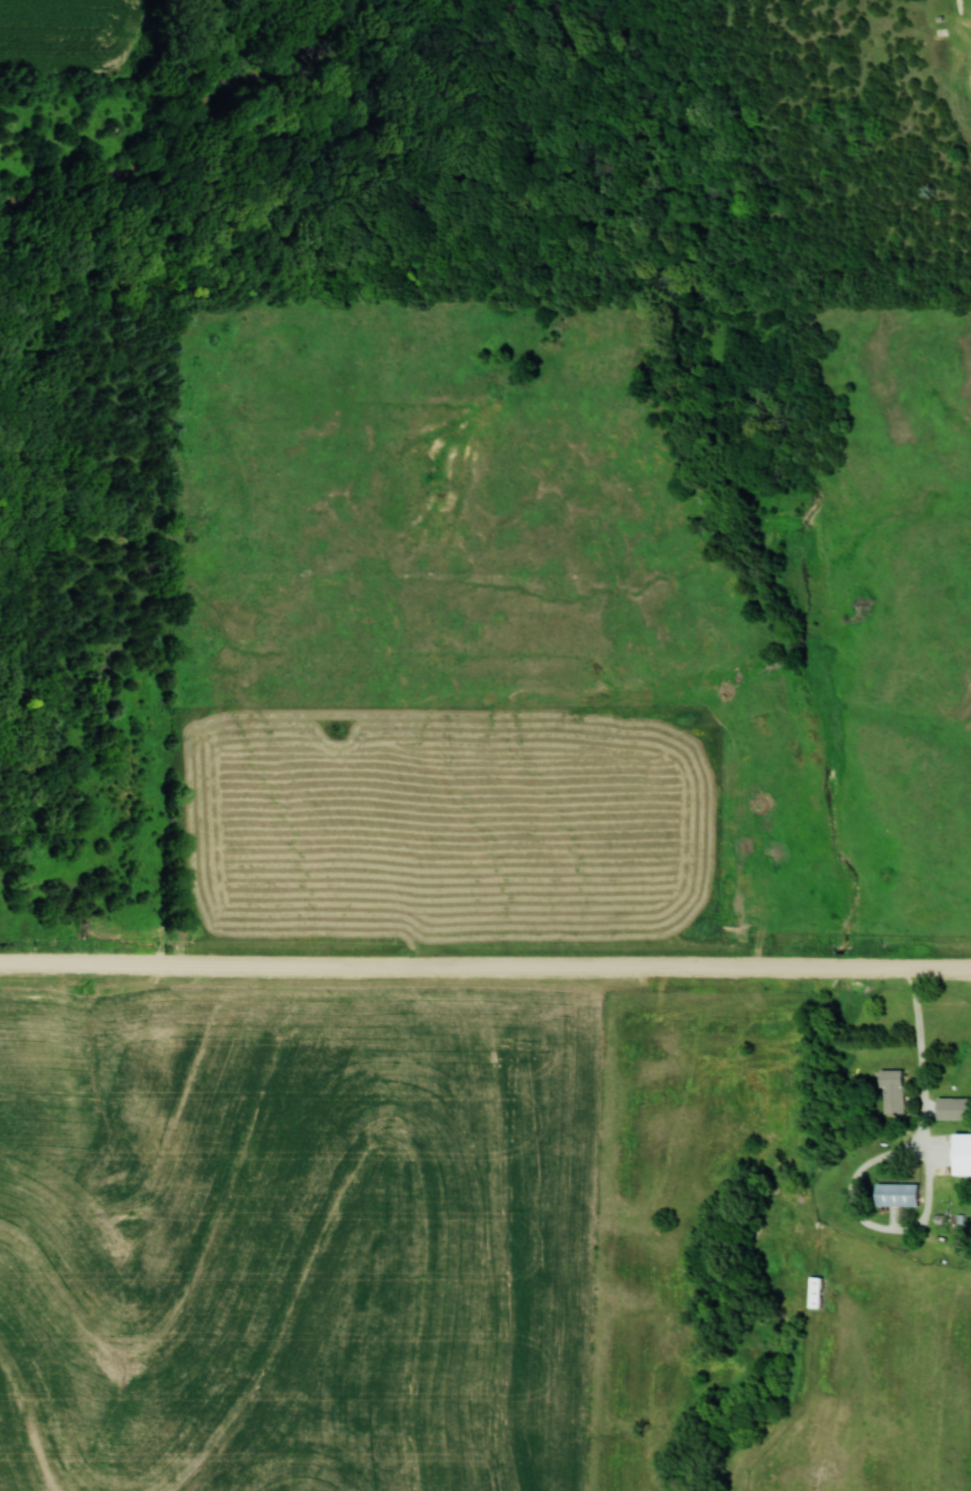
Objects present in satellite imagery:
dam: (957, 3)
parking lot: (969, 74)
park: (578, 152)
road: (485, 968)
road: (923, 1060)
building: (895, 1091)
building: (956, 1110)
building: (966, 1157)
building: (902, 1195)
road: (871, 1220)
building: (819, 1293)

